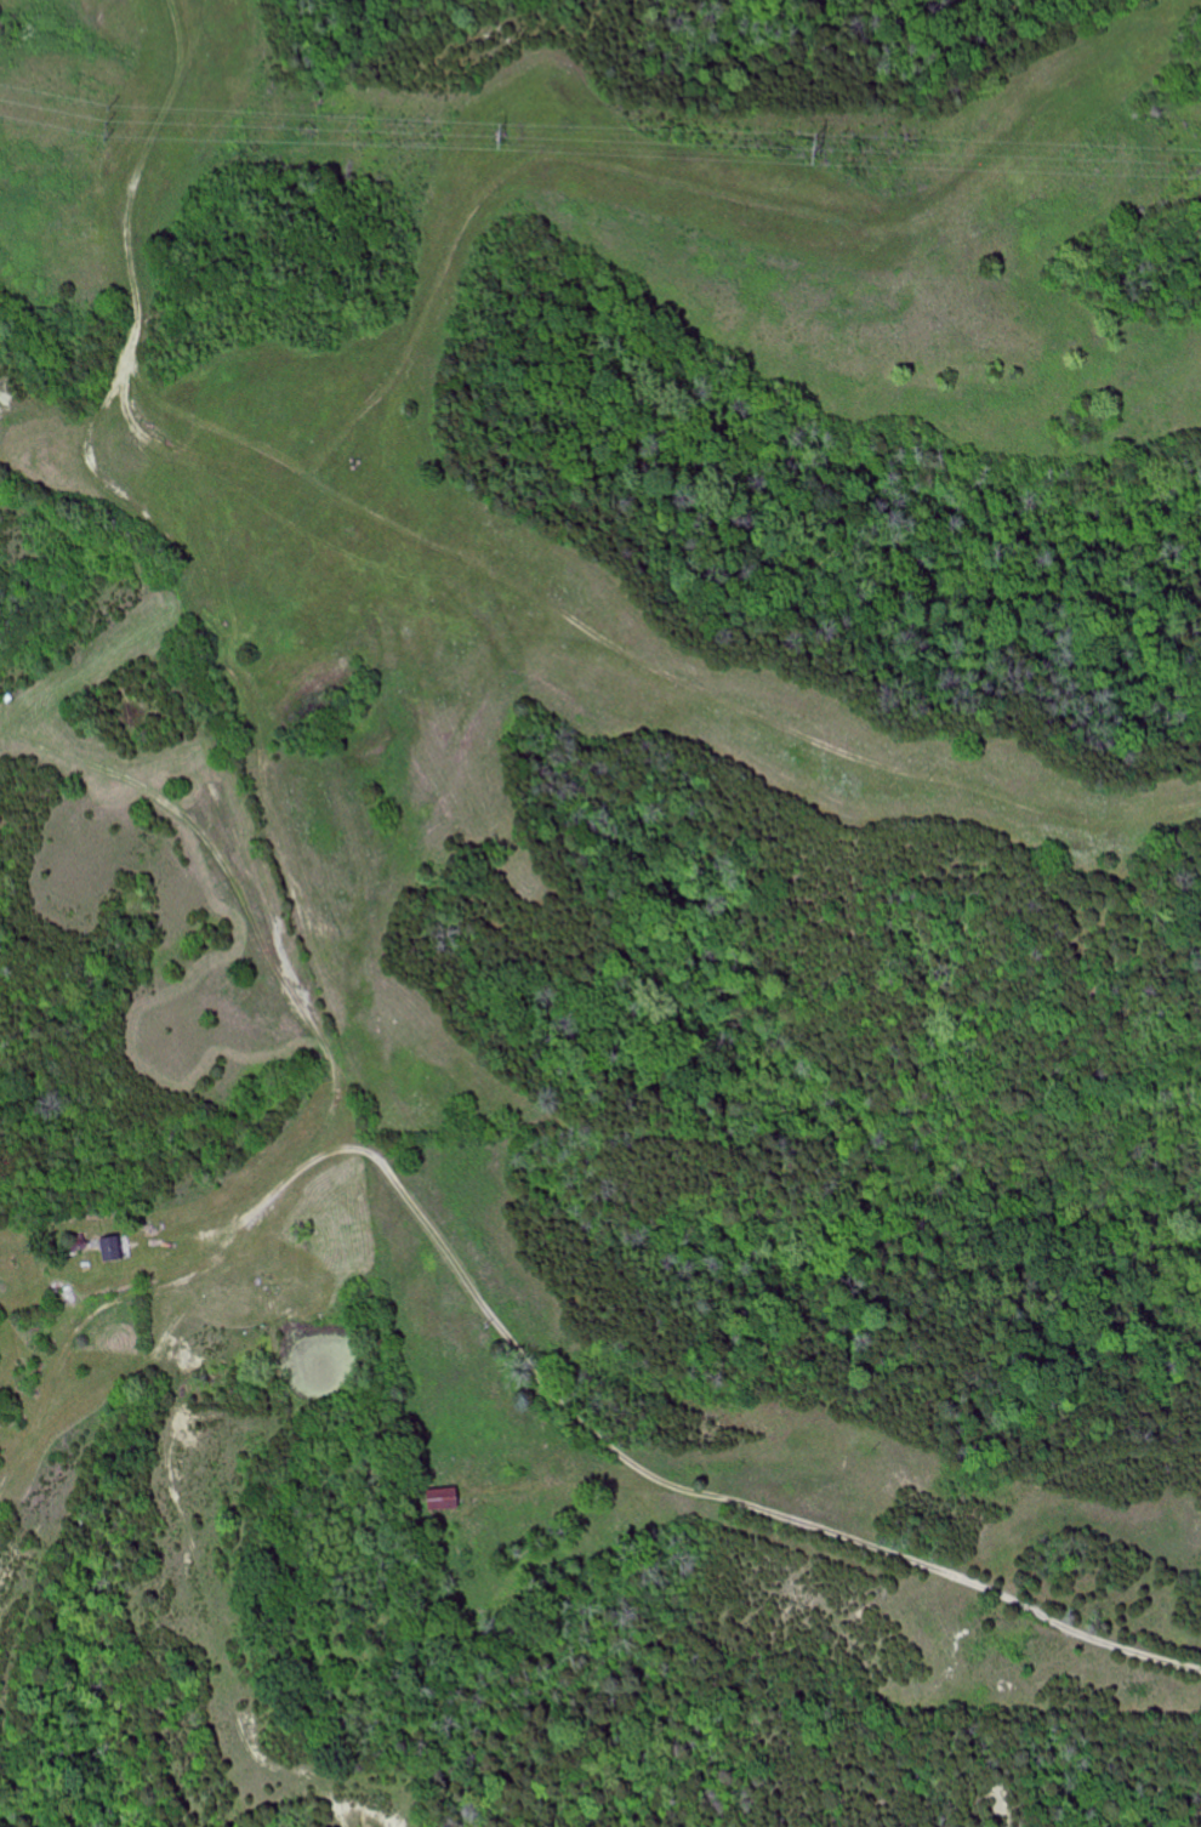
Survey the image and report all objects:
power tower: (104, 123)
power tower: (499, 135)
power tower: (814, 147)
road: (170, 587)
road: (560, 1374)

